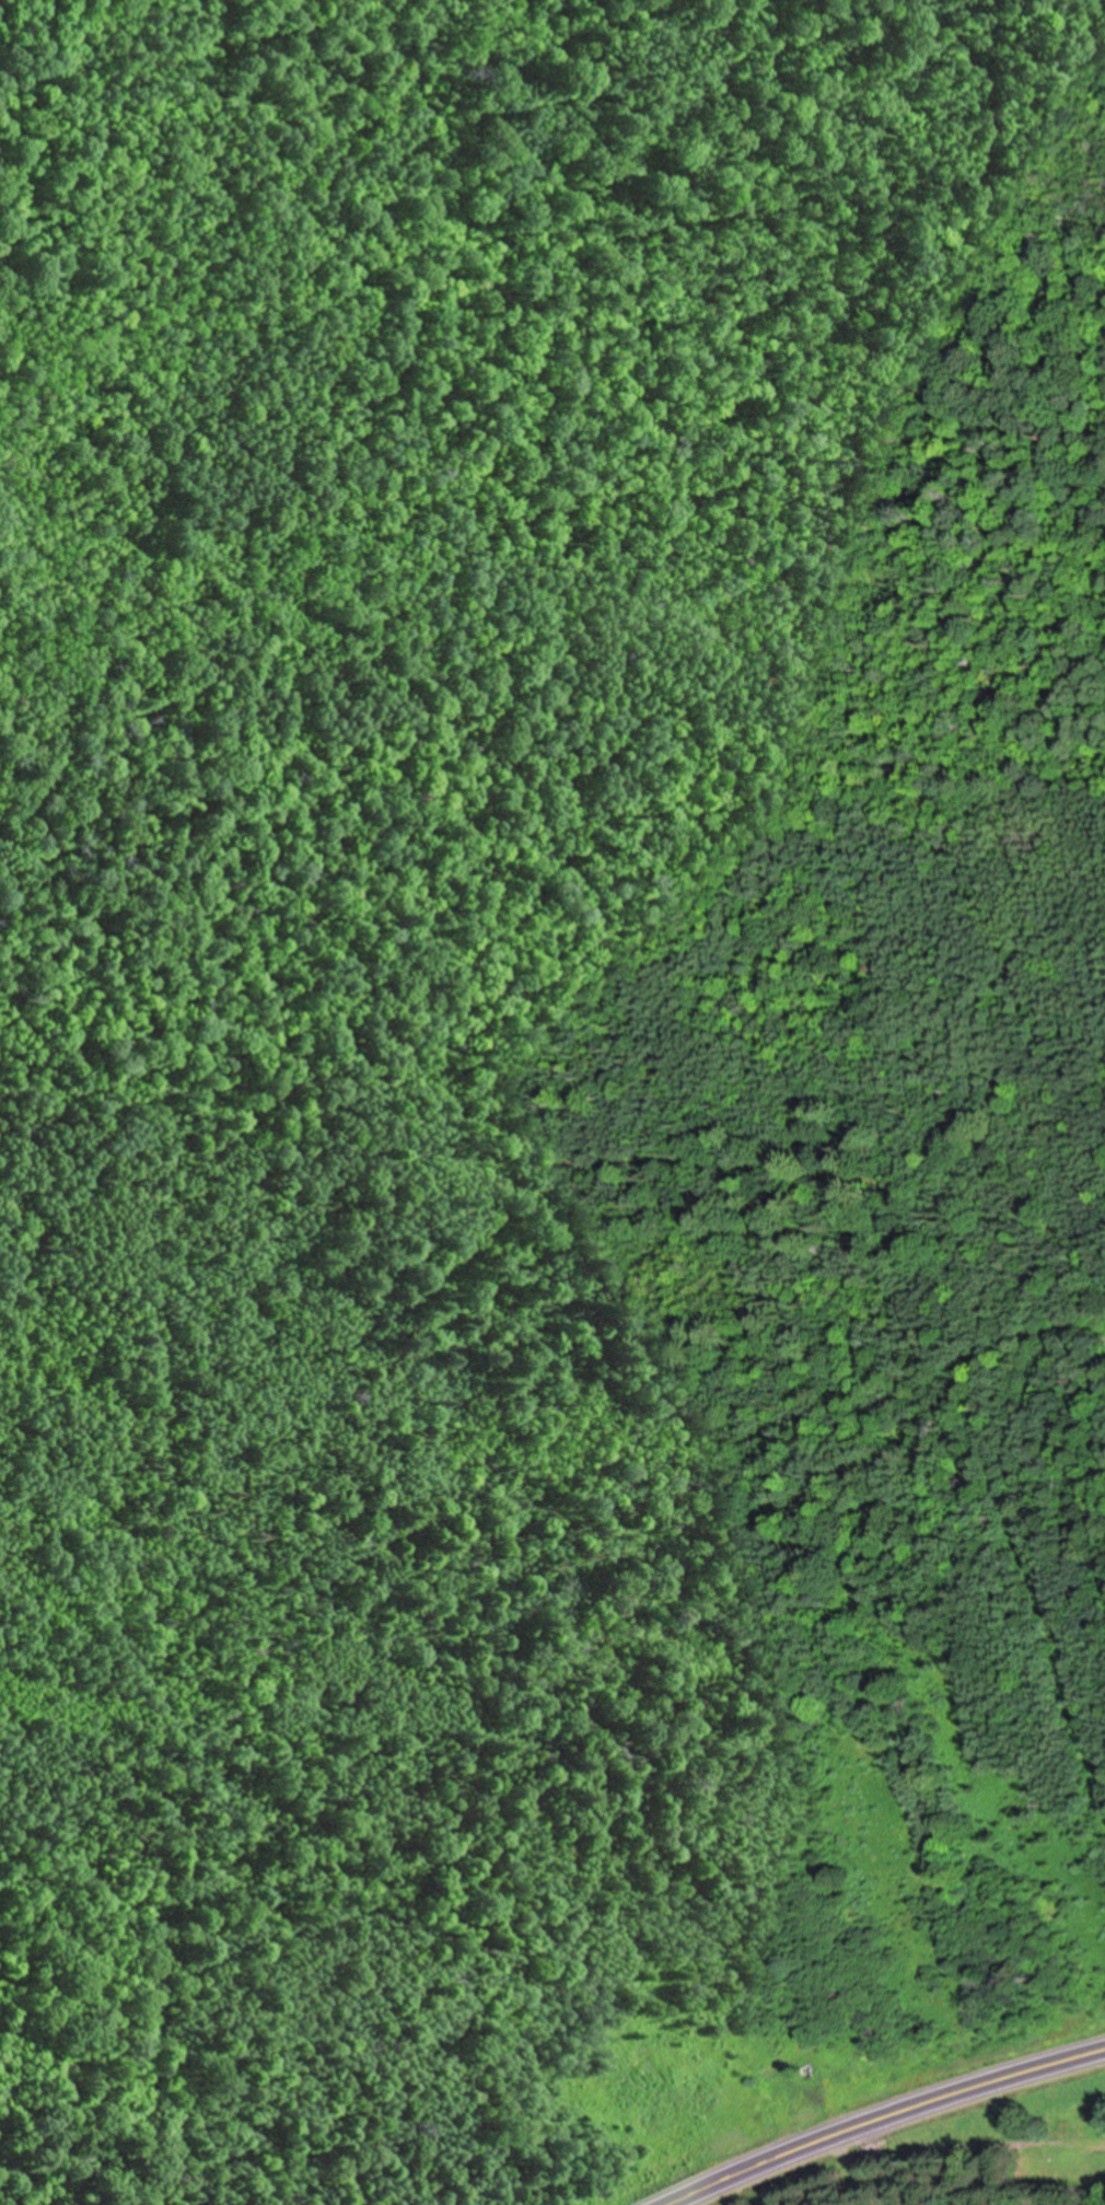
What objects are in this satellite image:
road: (879, 2116)

